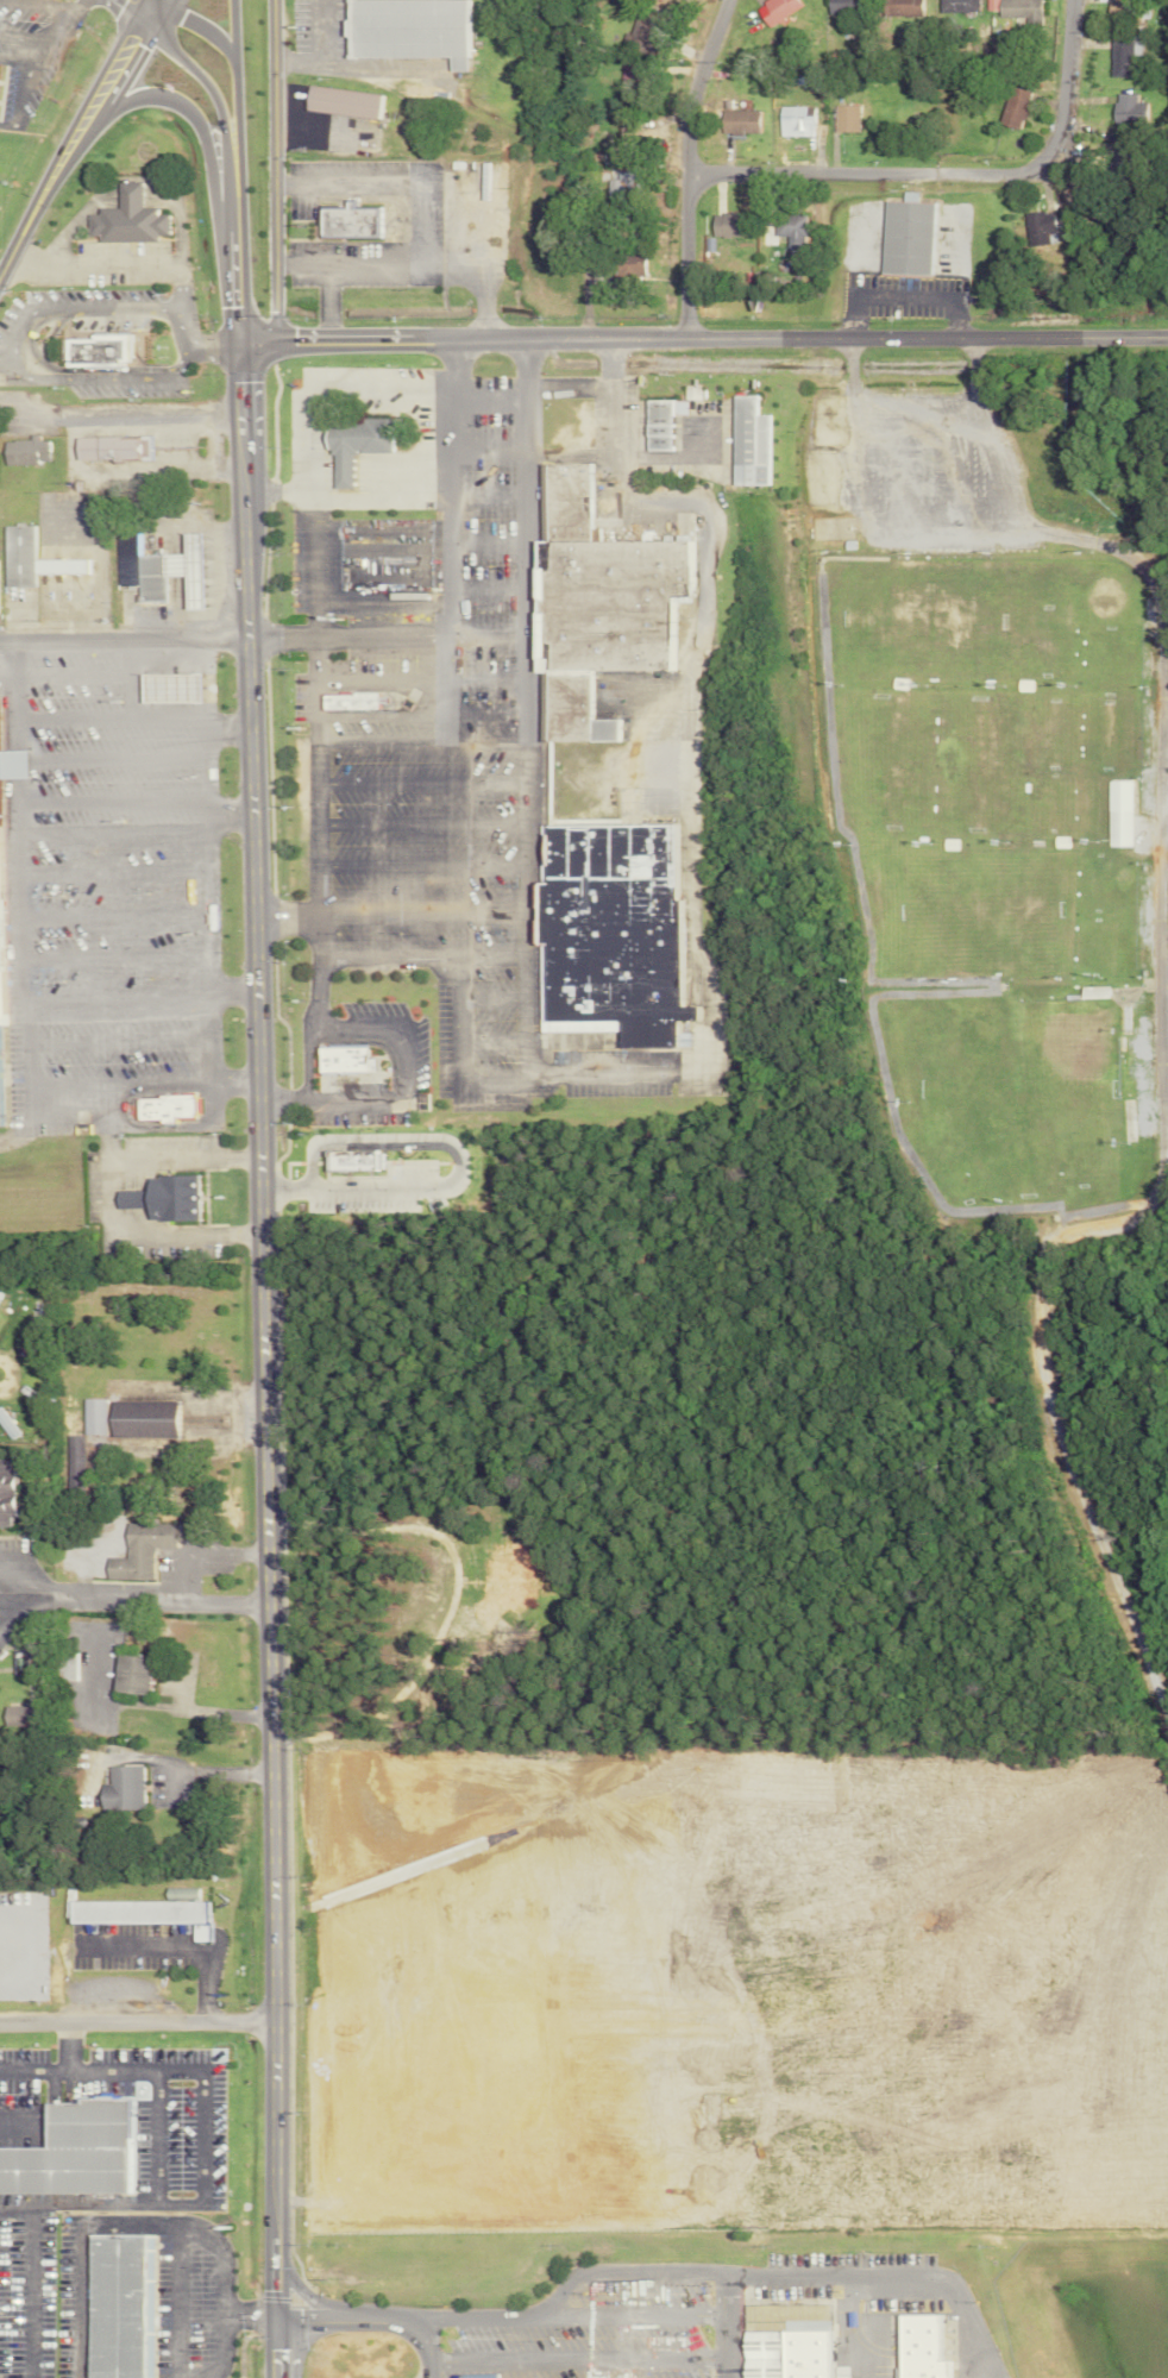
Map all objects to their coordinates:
building: (659, 0)
building: (1114, 5)
building: (836, 6)
building: (902, 7)
building: (955, 7)
road: (136, 8)
building: (1013, 8)
building: (774, 10)
road: (200, 24)
building: (404, 29)
building: (1120, 57)
road: (325, 59)
building: (341, 101)
building: (1012, 107)
building: (1128, 108)
road: (188, 117)
building: (793, 117)
building: (843, 118)
road: (218, 119)
building: (739, 120)
road: (233, 127)
road: (77, 133)
road: (315, 134)
road: (686, 165)
road: (274, 168)
road: (949, 177)
road: (126, 182)
building: (622, 182)
building: (125, 218)
building: (347, 221)
building: (729, 224)
building: (1040, 224)
road: (417, 227)
building: (789, 230)
building: (904, 238)
road: (107, 264)
road: (472, 278)
road: (325, 300)
road: (26, 313)
road: (2, 333)
road: (702, 338)
building: (100, 345)
road: (447, 362)
road: (328, 389)
road: (885, 400)
road: (24, 421)
building: (658, 422)
road: (991, 429)
road: (607, 439)
building: (748, 441)
building: (351, 444)
road: (69, 447)
building: (111, 447)
building: (23, 451)
road: (410, 479)
road: (451, 519)
road: (1109, 542)
building: (29, 558)
gas station: (172, 567)
road: (312, 569)
building: (158, 570)
road: (213, 575)
road: (521, 589)
building: (604, 606)
road: (93, 611)
road: (280, 635)
road: (123, 636)
building: (174, 682)
road: (12, 689)
building: (348, 694)
road: (130, 720)
building: (14, 760)
road: (13, 761)
park: (987, 776)
road: (131, 801)
building: (1125, 812)
building: (0, 814)
road: (207, 902)
road: (313, 902)
road: (282, 917)
road: (525, 921)
building: (617, 931)
building: (4, 947)
road: (451, 987)
road: (137, 992)
building: (4, 1021)
road: (24, 1050)
road: (301, 1052)
building: (347, 1055)
building: (4, 1075)
park: (1036, 1079)
road: (327, 1099)
building: (164, 1108)
road: (428, 1140)
building: (357, 1156)
road: (144, 1162)
building: (163, 1199)
road: (1125, 1223)
road: (149, 1235)
road: (257, 1316)
building: (127, 1419)
building: (7, 1425)
building: (74, 1457)
road: (1067, 1483)
building: (5, 1494)
building: (139, 1551)
building: (505, 1577)
road: (131, 1593)
road: (353, 1594)
building: (67, 1665)
building: (128, 1676)
road: (147, 1702)
building: (12, 1714)
road: (193, 1768)
building: (118, 1790)
building: (137, 1908)
road: (174, 1949)
road: (137, 2021)
road: (56, 2066)
road: (158, 2091)
building: (544, 2115)
building: (71, 2150)
road: (102, 2211)
road: (722, 2273)
building: (115, 2305)
road: (246, 2309)
road: (373, 2315)
road: (722, 2326)
building: (670, 2334)
building: (781, 2341)
building: (919, 2347)
road: (215, 2349)
parking lot: (573, 2349)

